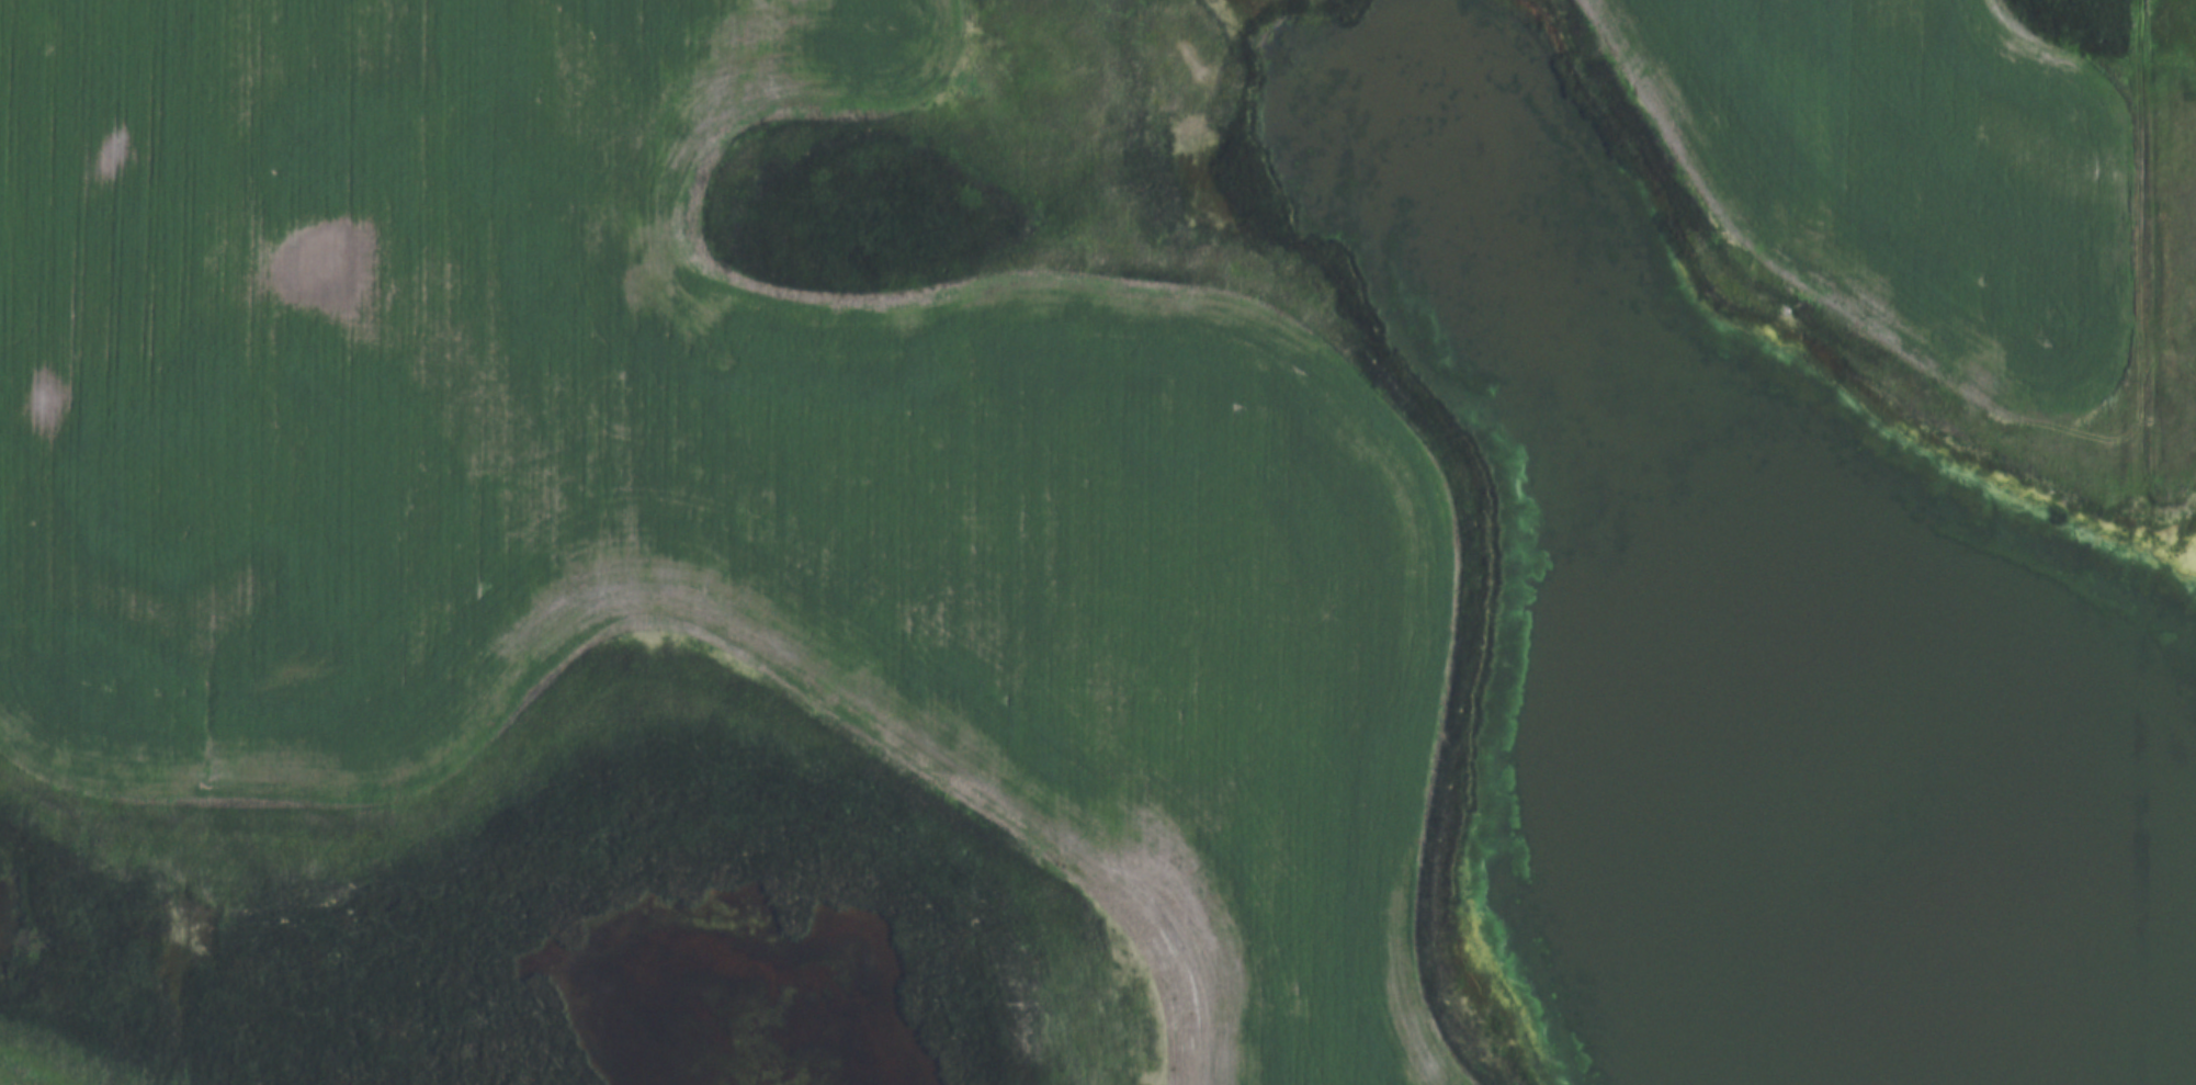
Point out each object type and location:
road: (2140, 267)

